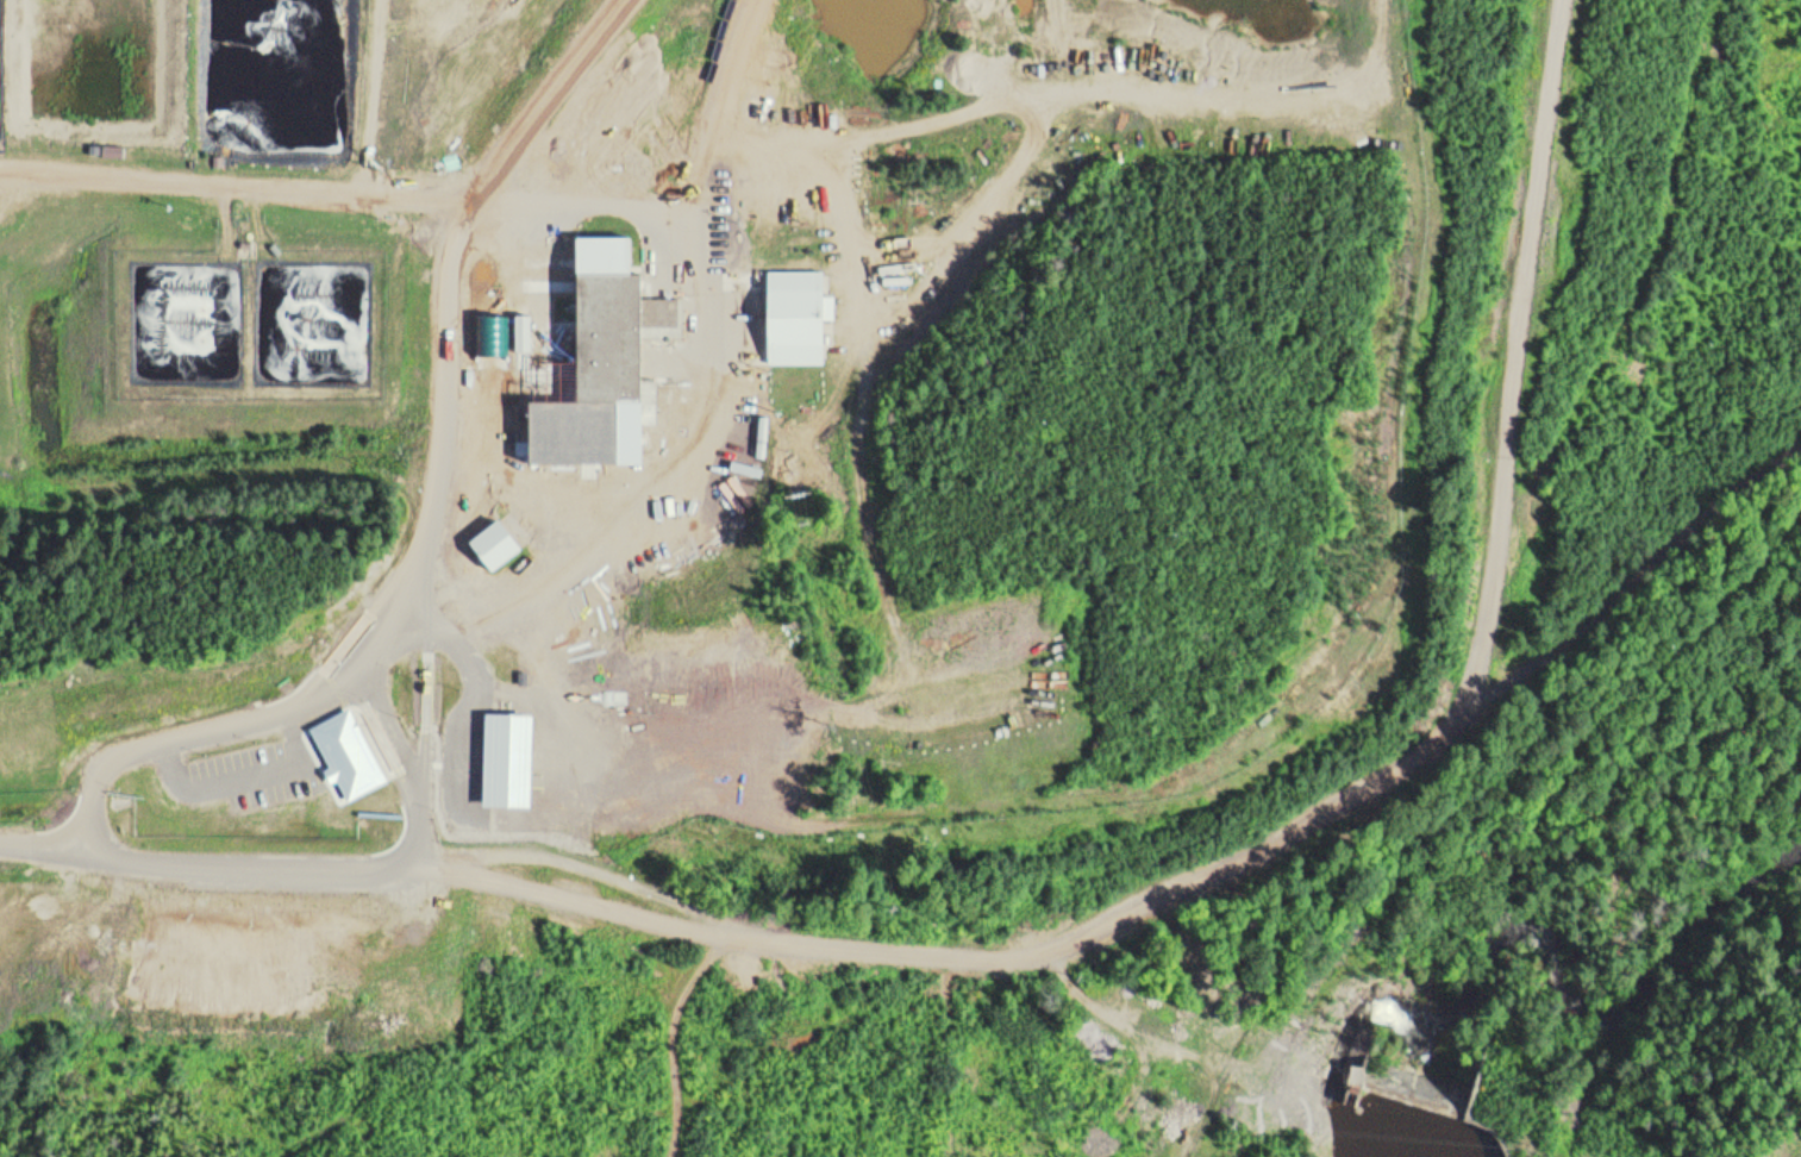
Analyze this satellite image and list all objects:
road: (707, 234)
building: (802, 314)
building: (525, 331)
road: (1517, 332)
building: (615, 334)
landfill: (711, 418)
building: (501, 544)
road: (1433, 731)
road: (156, 832)
road: (651, 909)
river: (1571, 981)
road: (1669, 1000)
road: (676, 1037)

